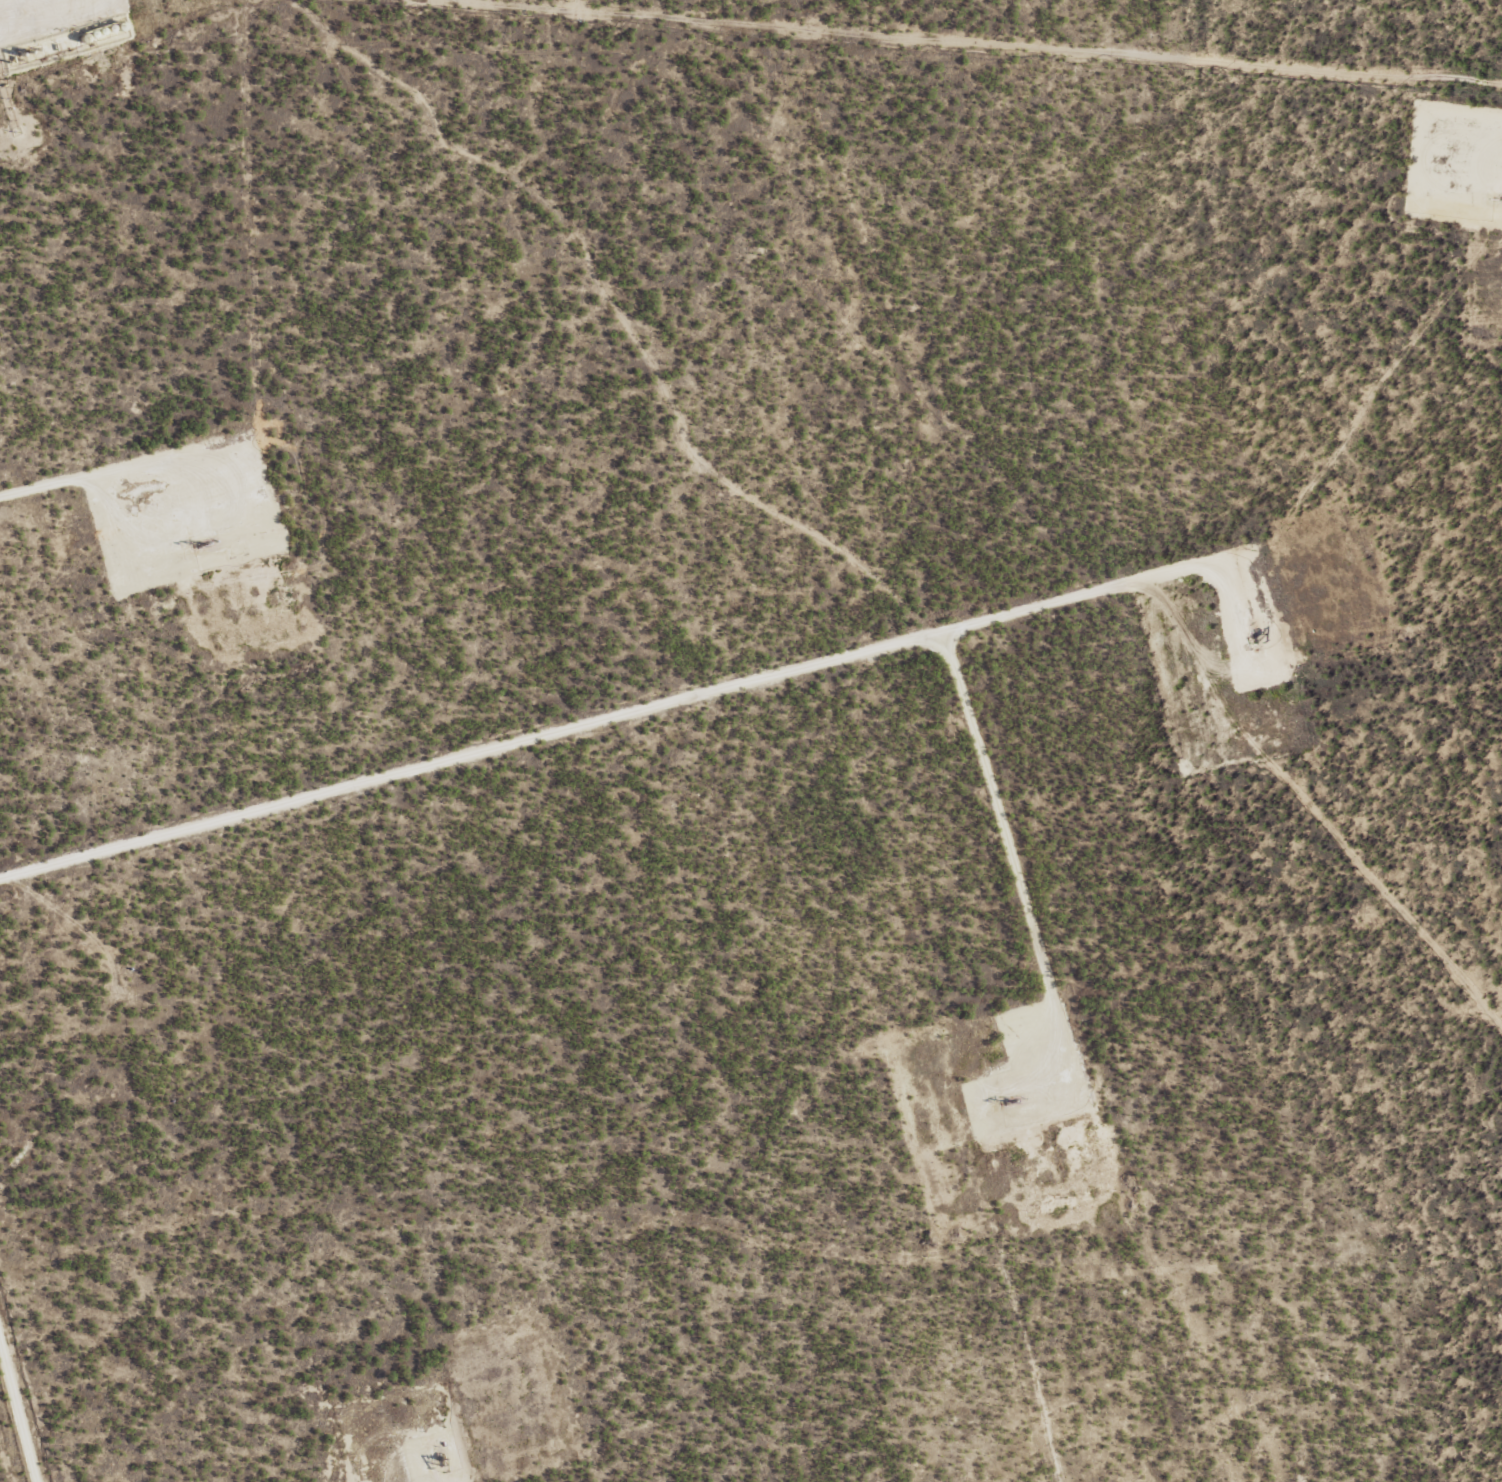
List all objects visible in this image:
road: (39, 12)
road: (123, 466)
road: (629, 716)
road: (1016, 872)
road: (19, 1410)

